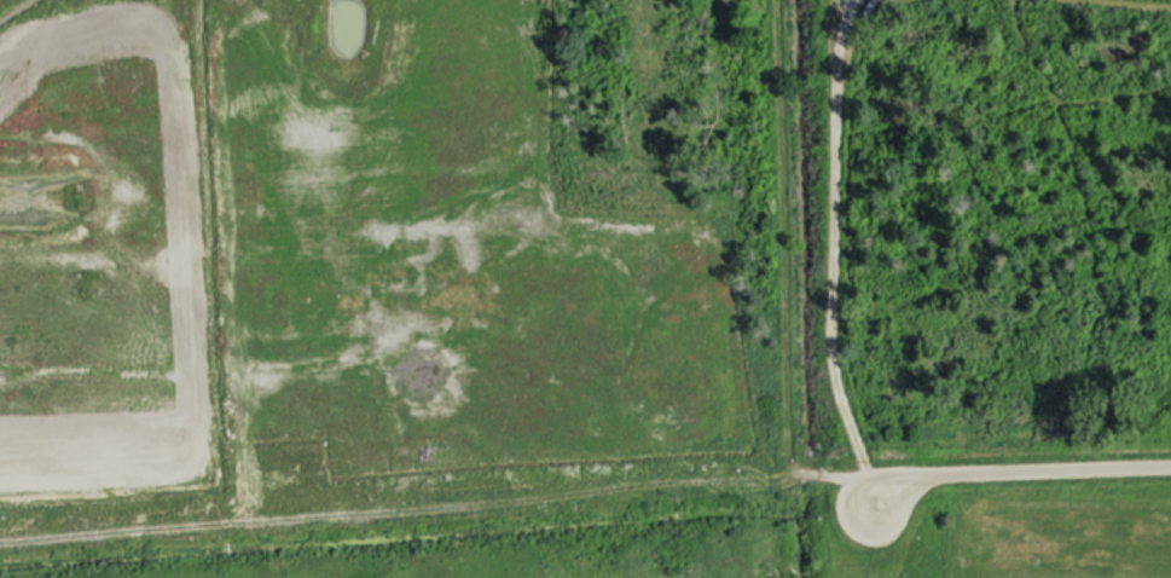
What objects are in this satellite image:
road: (833, 244)
road: (1003, 469)

